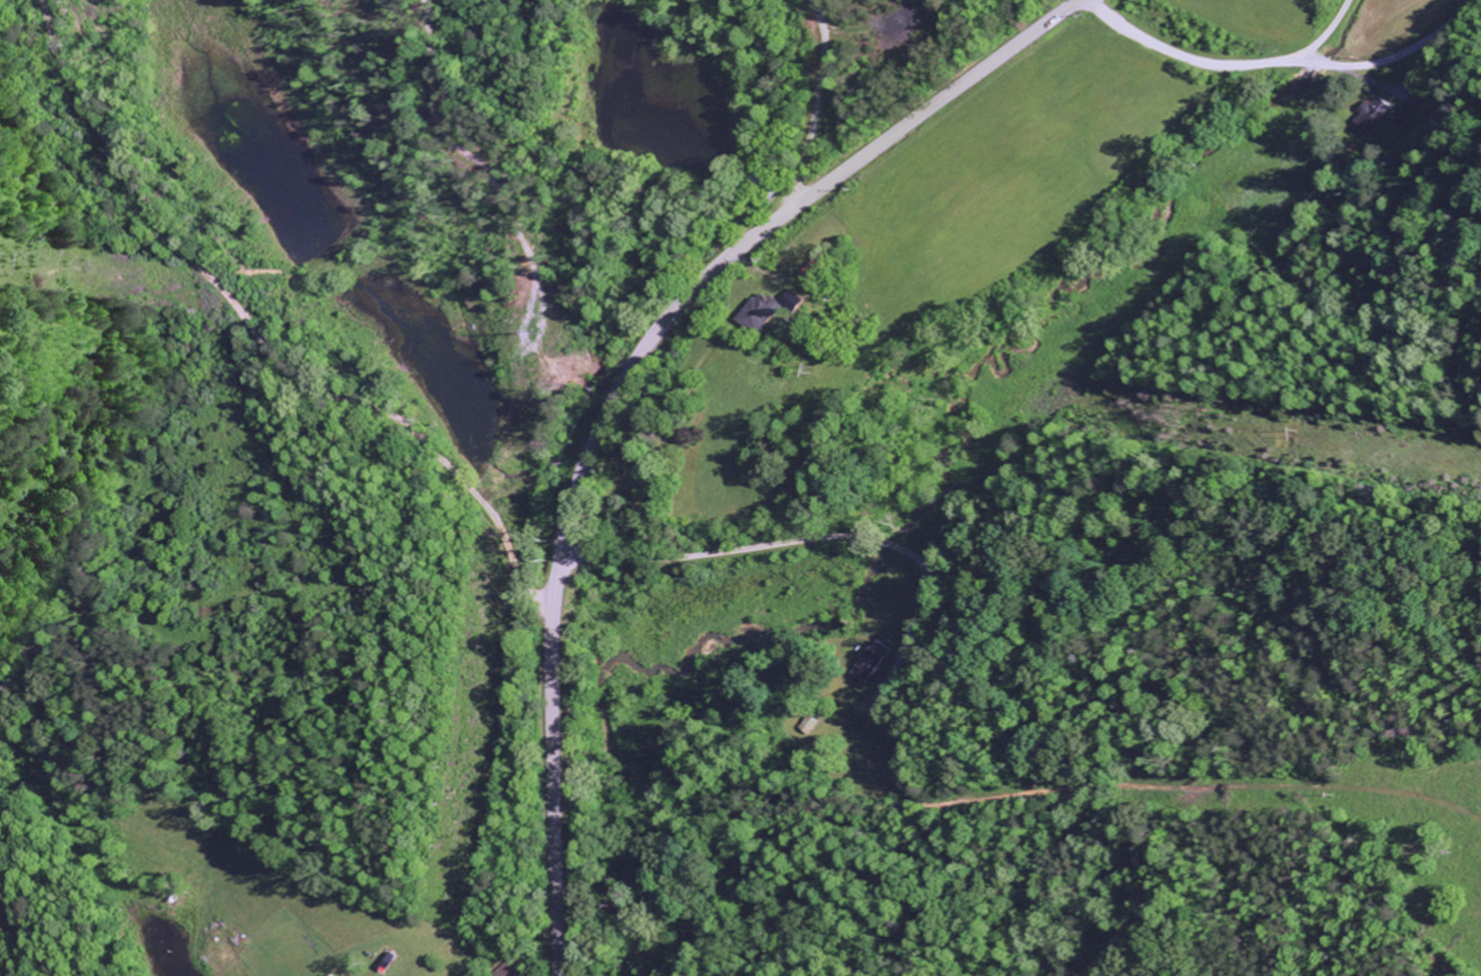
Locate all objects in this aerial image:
road: (1399, 54)
road: (1222, 66)
building: (1372, 114)
building: (798, 300)
building: (764, 313)
road: (623, 386)
road: (827, 536)
building: (872, 662)
building: (514, 969)

